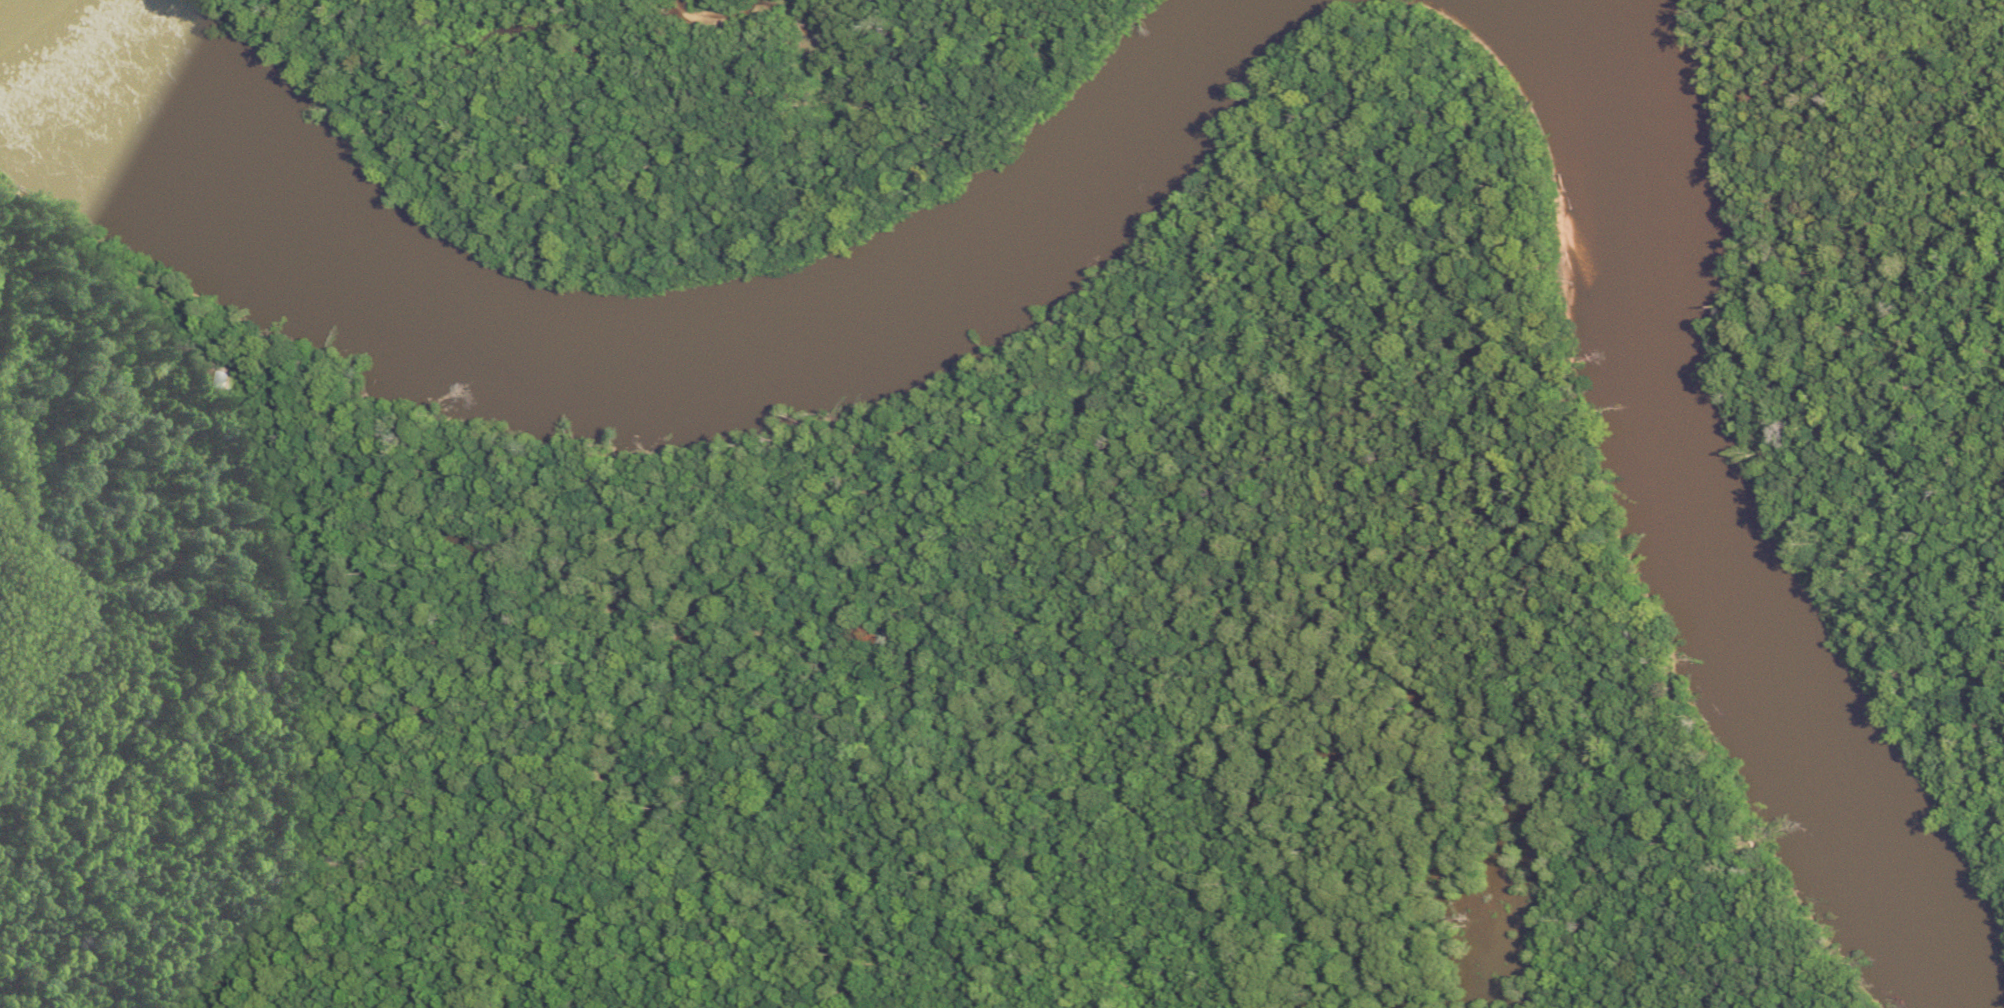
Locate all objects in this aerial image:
dam: (34, 25)
river: (637, 342)
river: (1703, 518)

